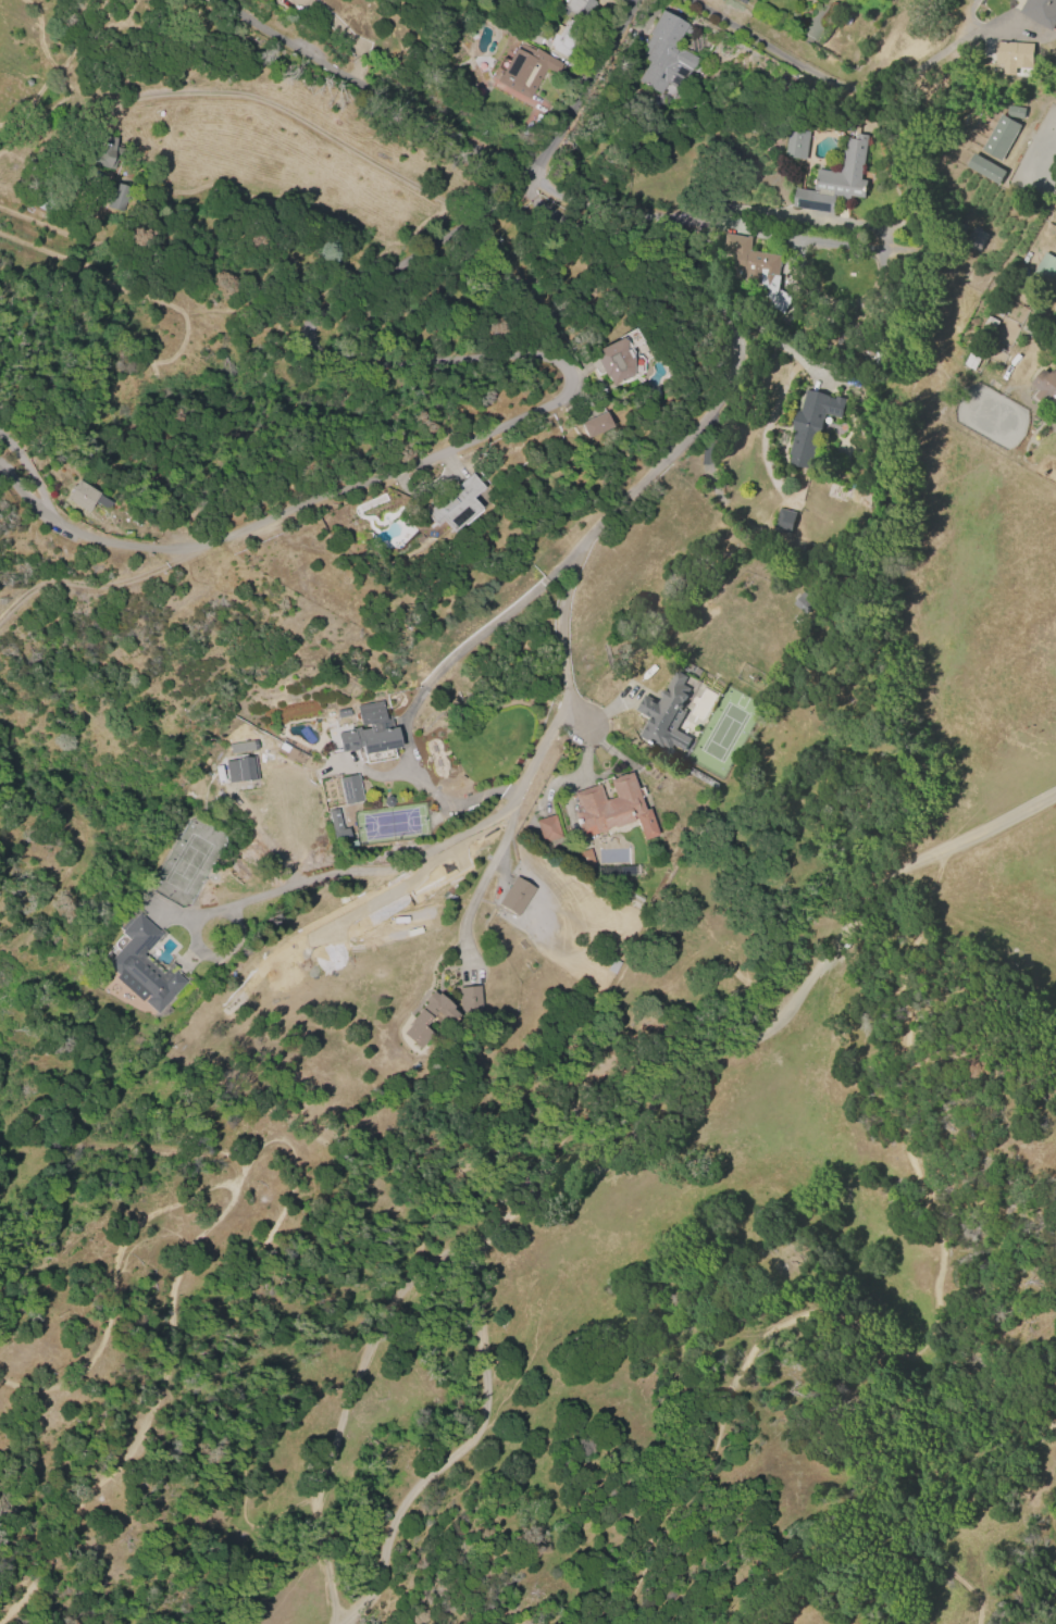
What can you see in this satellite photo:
building: (576, 5)
building: (1041, 10)
building: (533, 34)
building: (564, 37)
building: (664, 54)
building: (1012, 57)
building: (526, 68)
road: (380, 87)
road: (848, 88)
road: (297, 115)
building: (999, 137)
building: (796, 143)
building: (105, 152)
building: (984, 168)
building: (835, 180)
building: (119, 197)
road: (659, 203)
building: (974, 239)
building: (754, 267)
building: (1044, 268)
building: (971, 360)
building: (613, 361)
road: (547, 363)
building: (1046, 387)
building: (593, 421)
building: (810, 425)
road: (25, 469)
building: (85, 497)
building: (457, 503)
building: (784, 522)
road: (593, 534)
building: (806, 603)
road: (422, 685)
building: (664, 715)
building: (370, 732)
building: (240, 747)
building: (240, 769)
building: (350, 788)
building: (612, 808)
building: (337, 827)
building: (547, 828)
building: (585, 859)
road: (480, 885)
building: (515, 896)
road: (236, 907)
building: (142, 965)
building: (612, 966)
building: (469, 1000)
building: (427, 1019)

